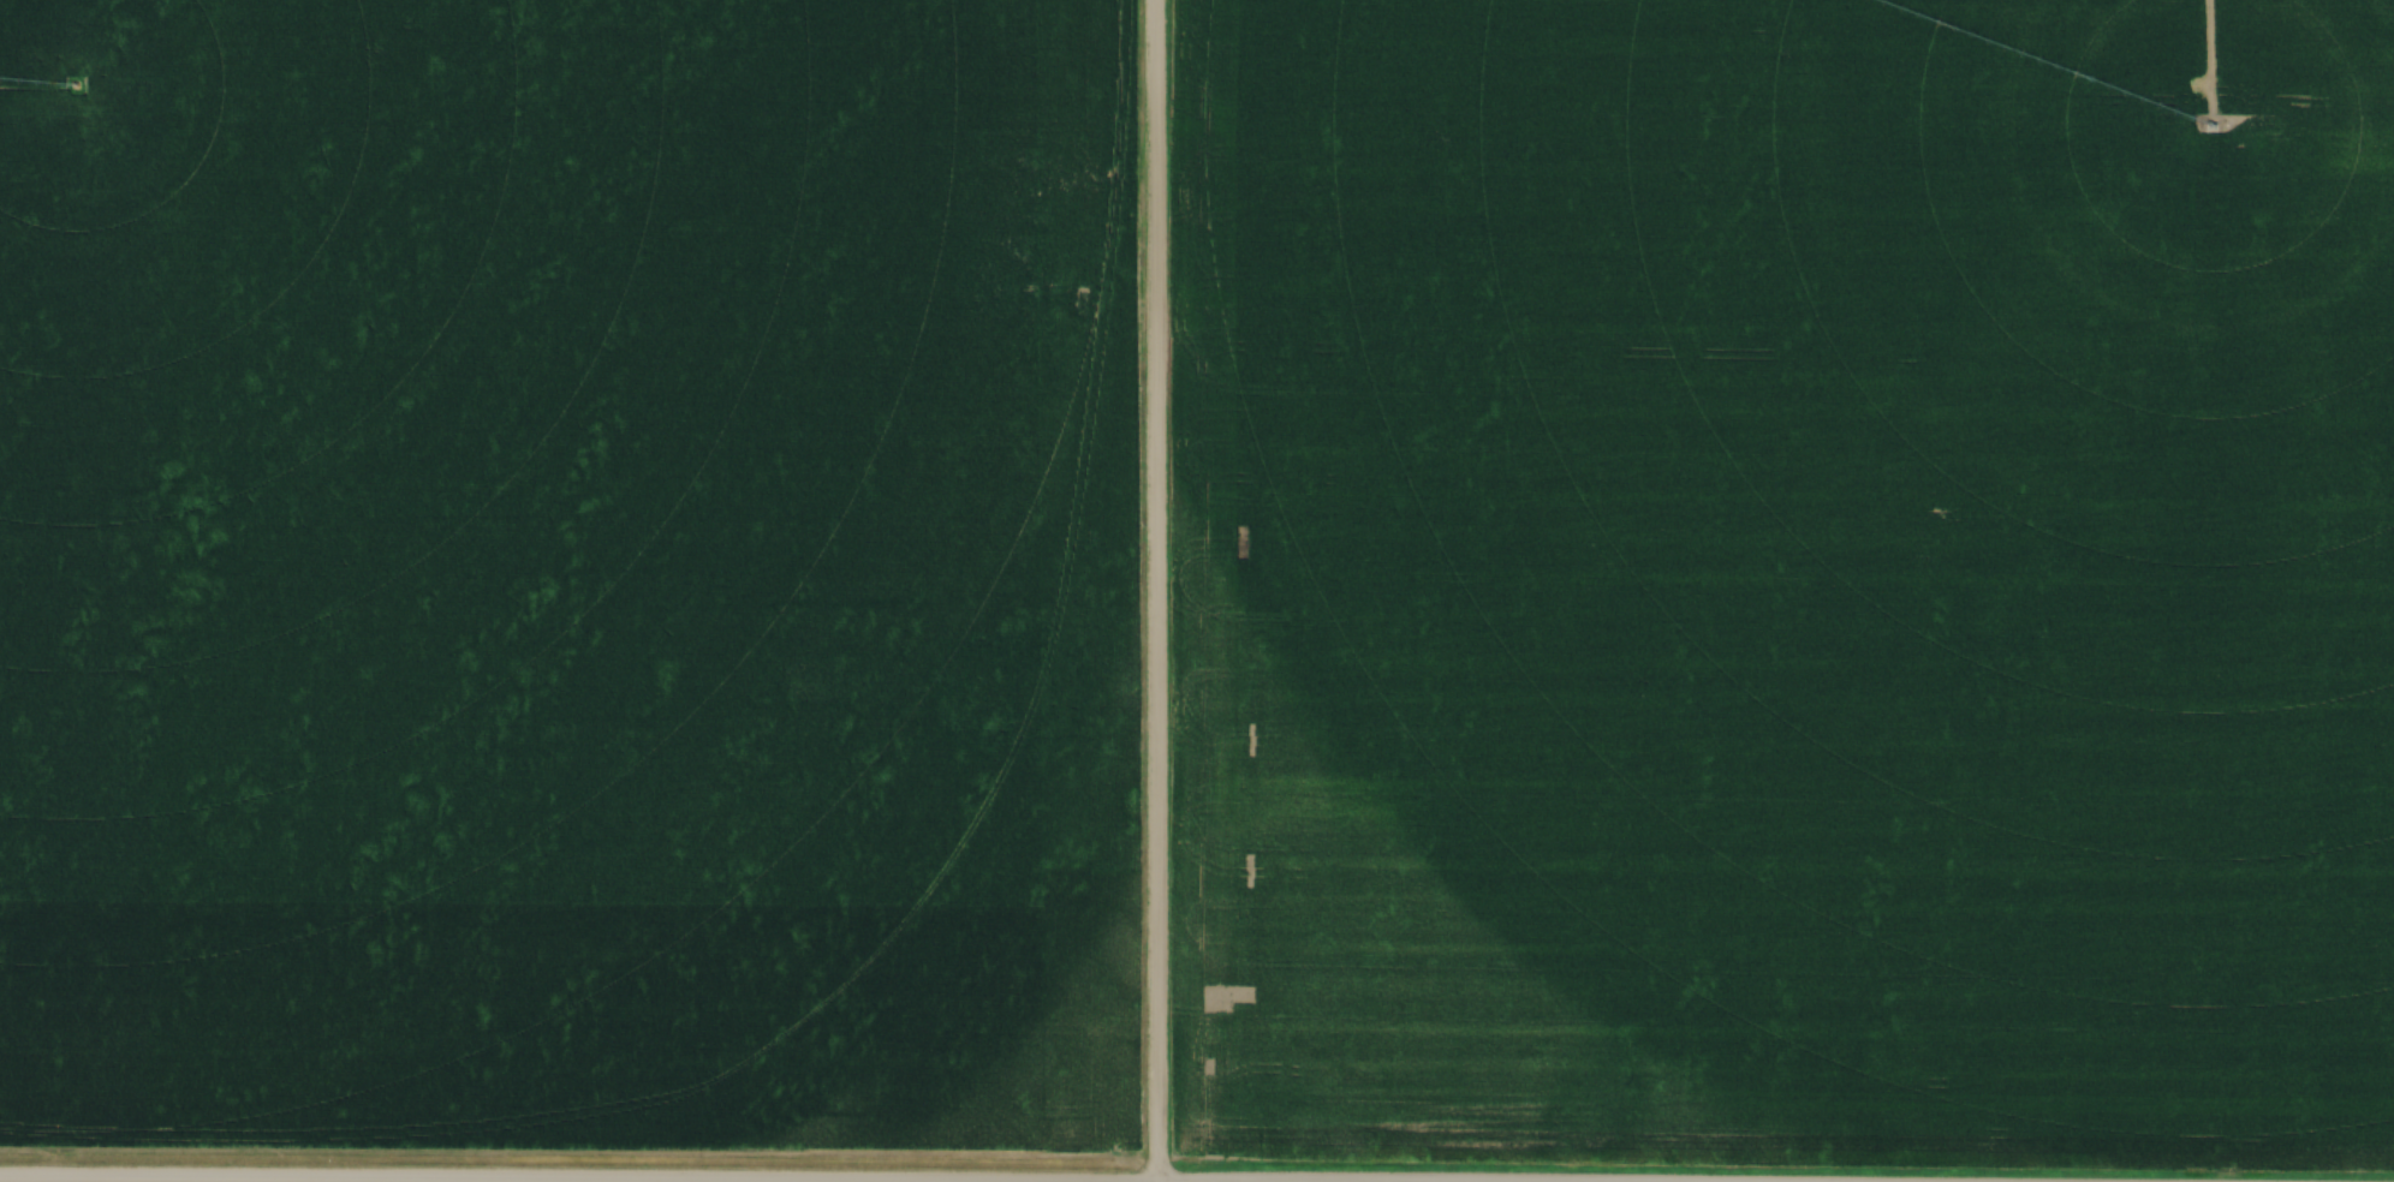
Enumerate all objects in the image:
road: (1157, 591)
road: (292, 1180)

